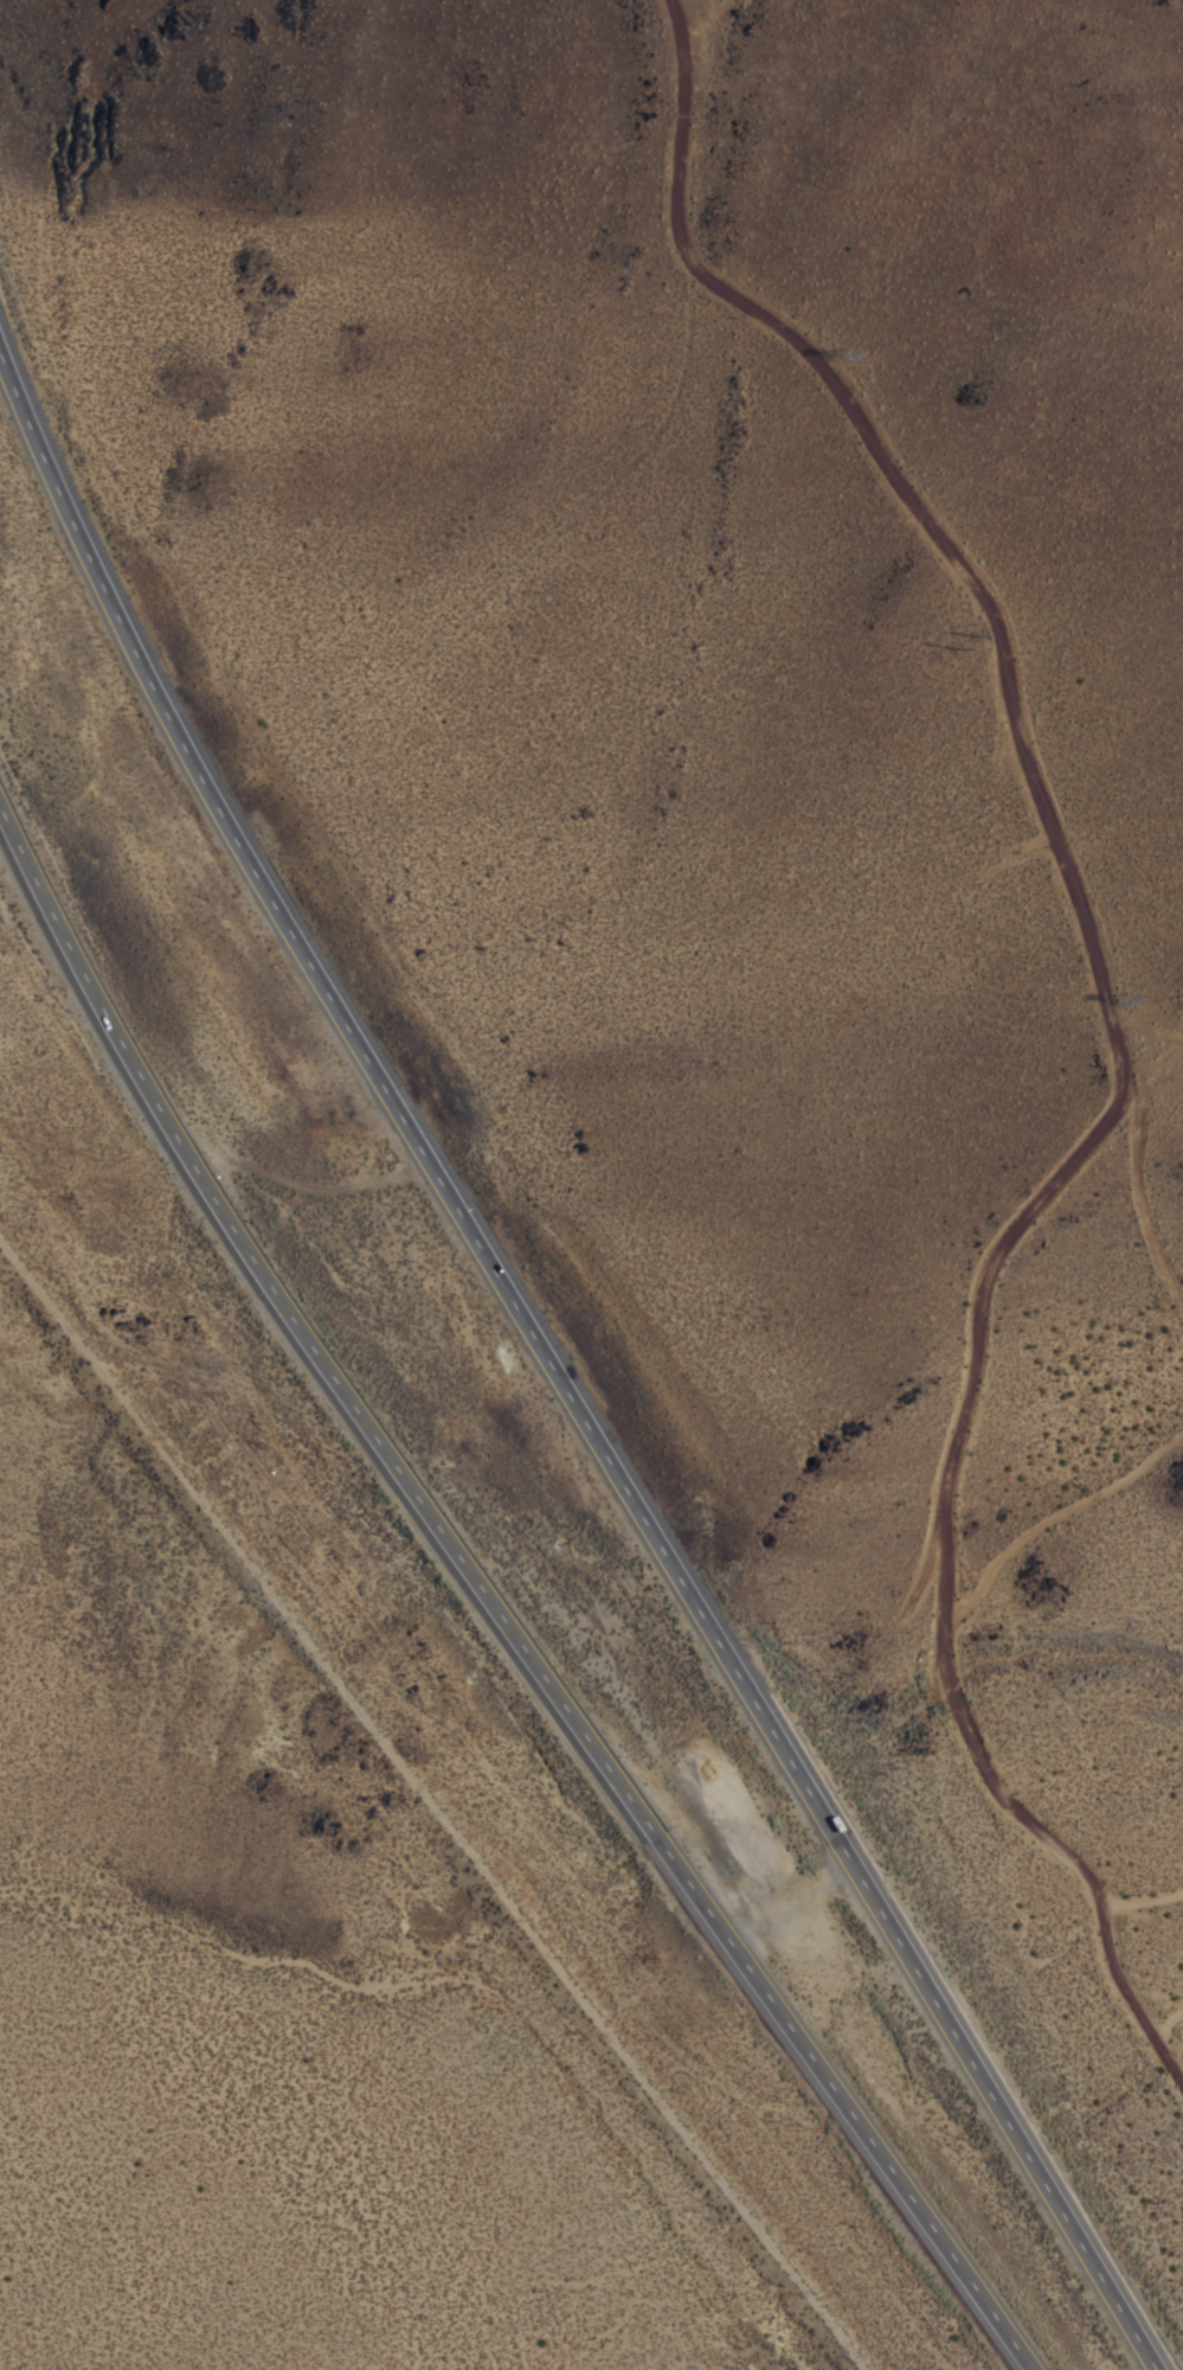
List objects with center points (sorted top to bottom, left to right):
power tower: (844, 354)
power tower: (967, 636)
power tower: (1121, 1004)
road: (548, 1367)
road: (488, 1610)

